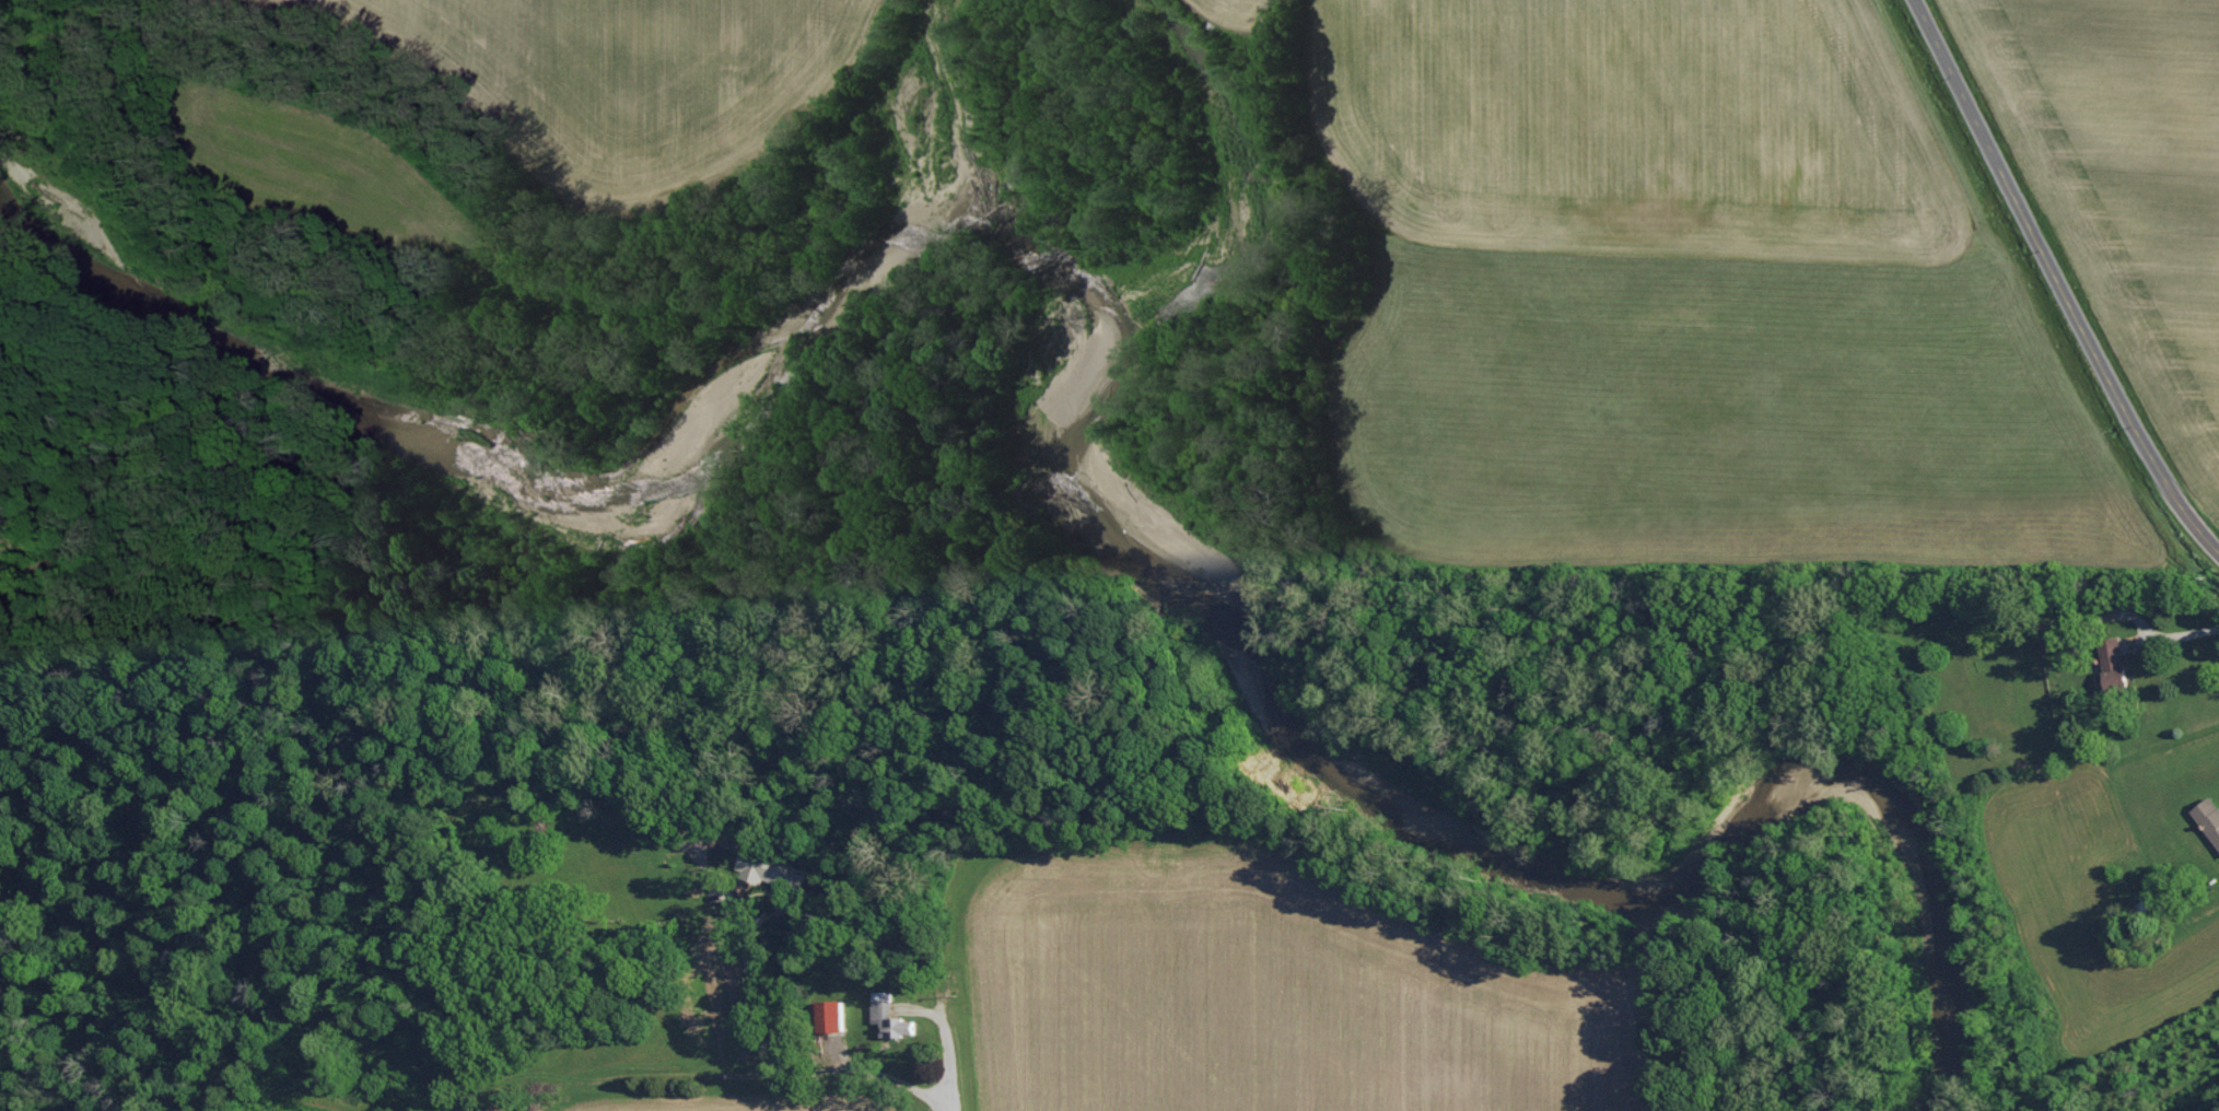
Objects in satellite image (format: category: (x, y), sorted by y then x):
road: (2056, 280)
road: (2182, 632)
building: (2114, 663)
building: (2209, 816)
building: (784, 878)
building: (833, 1014)
building: (890, 1015)
road: (783, 1063)

